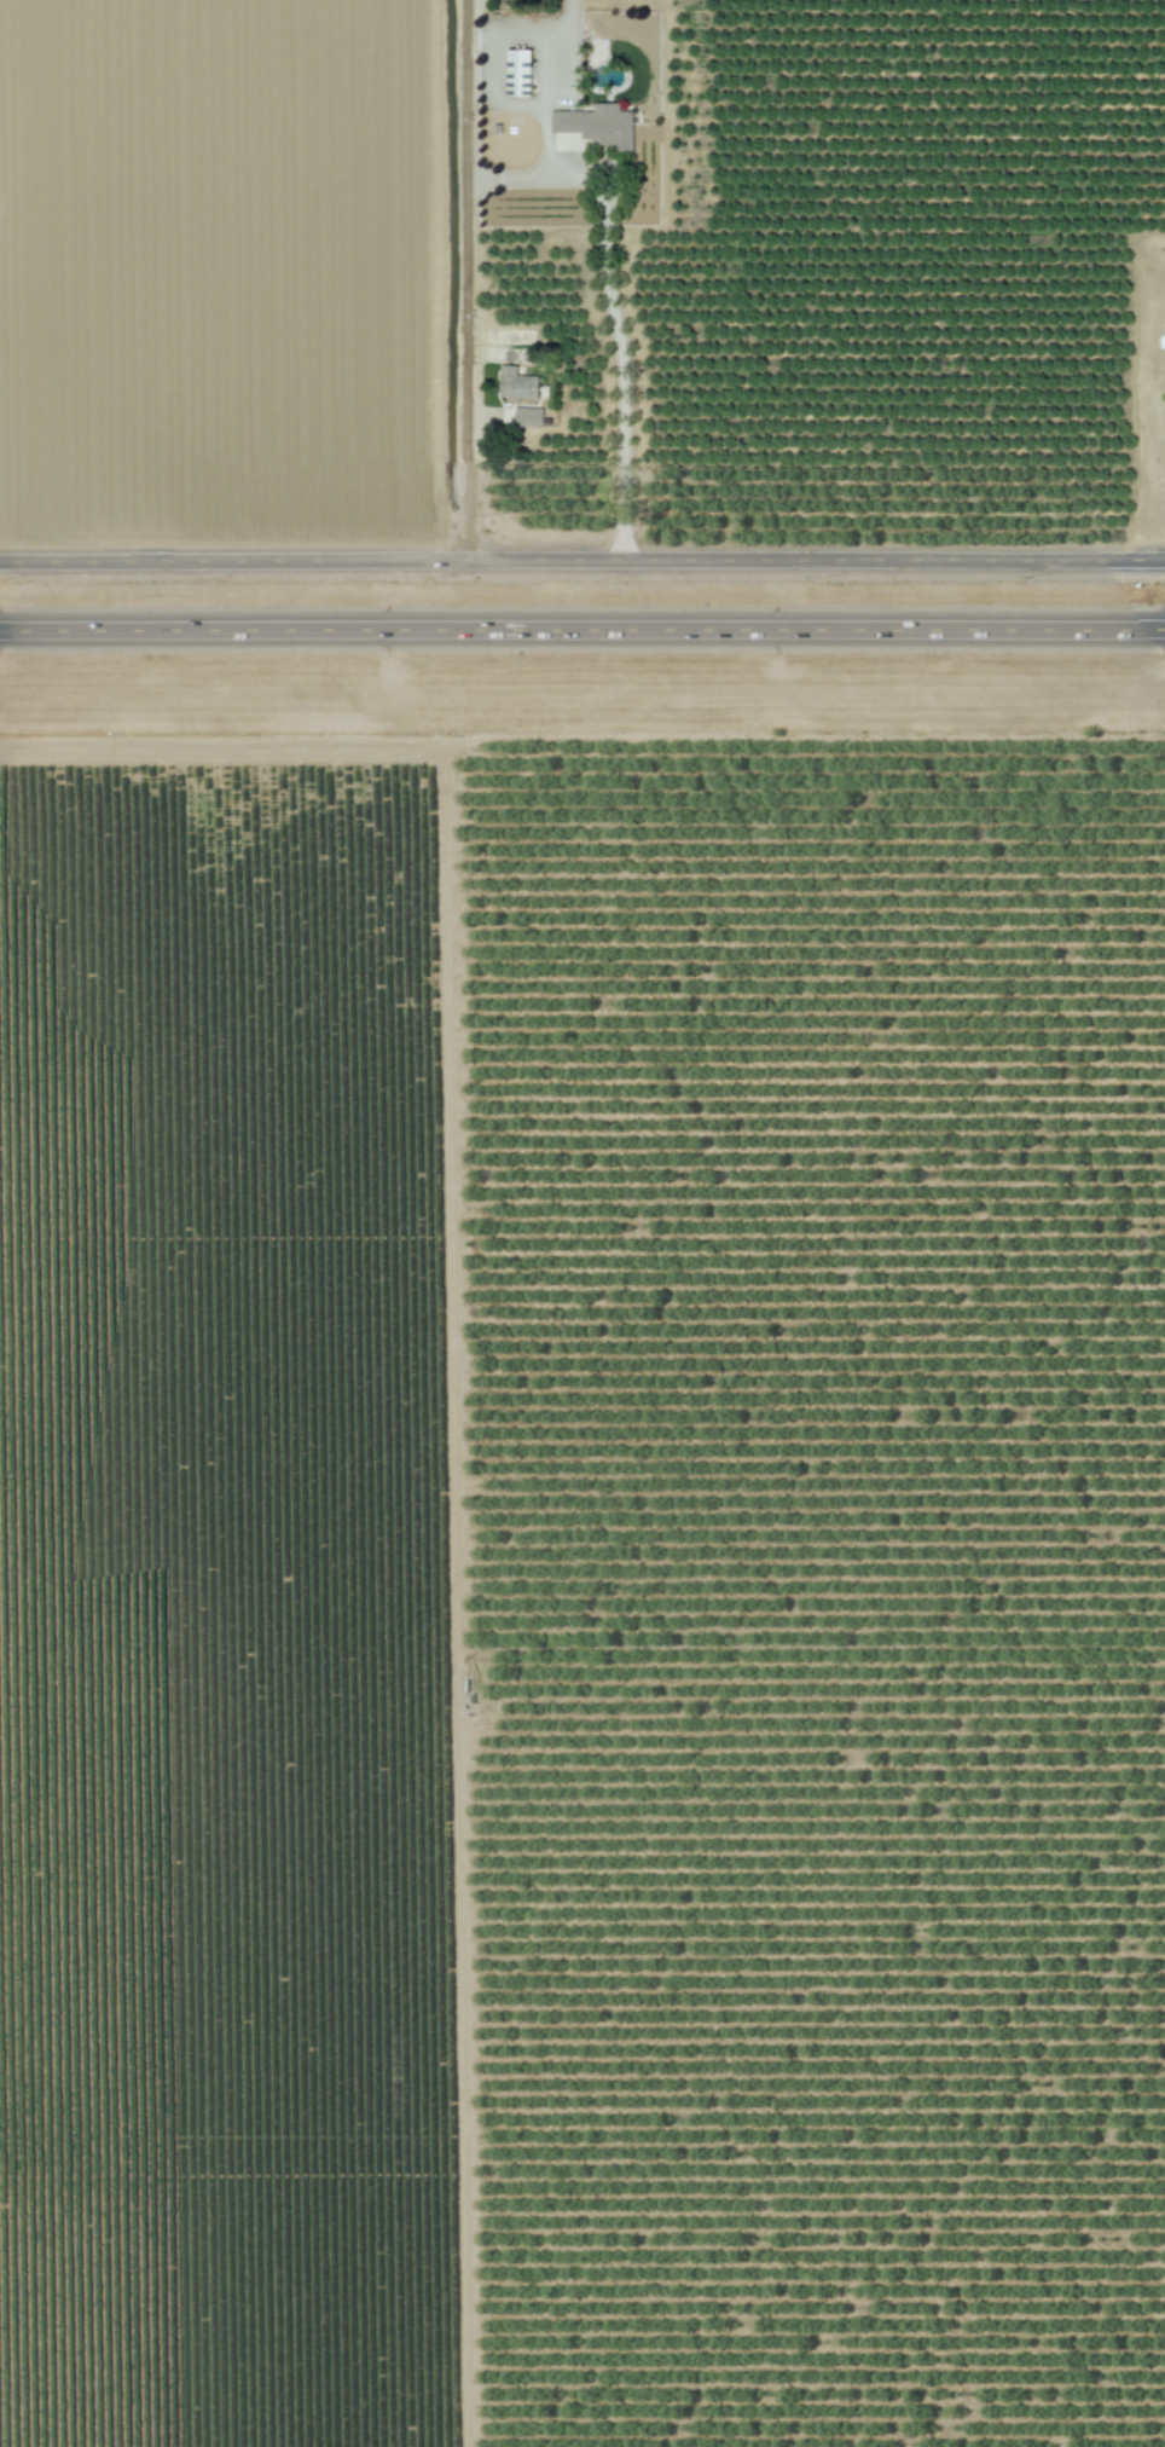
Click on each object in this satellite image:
building: (523, 75)
building: (601, 127)
road: (470, 284)
crop: (581, 296)
road: (625, 375)
building: (521, 386)
building: (510, 418)
road: (581, 559)
road: (582, 629)
crop: (582, 1575)

